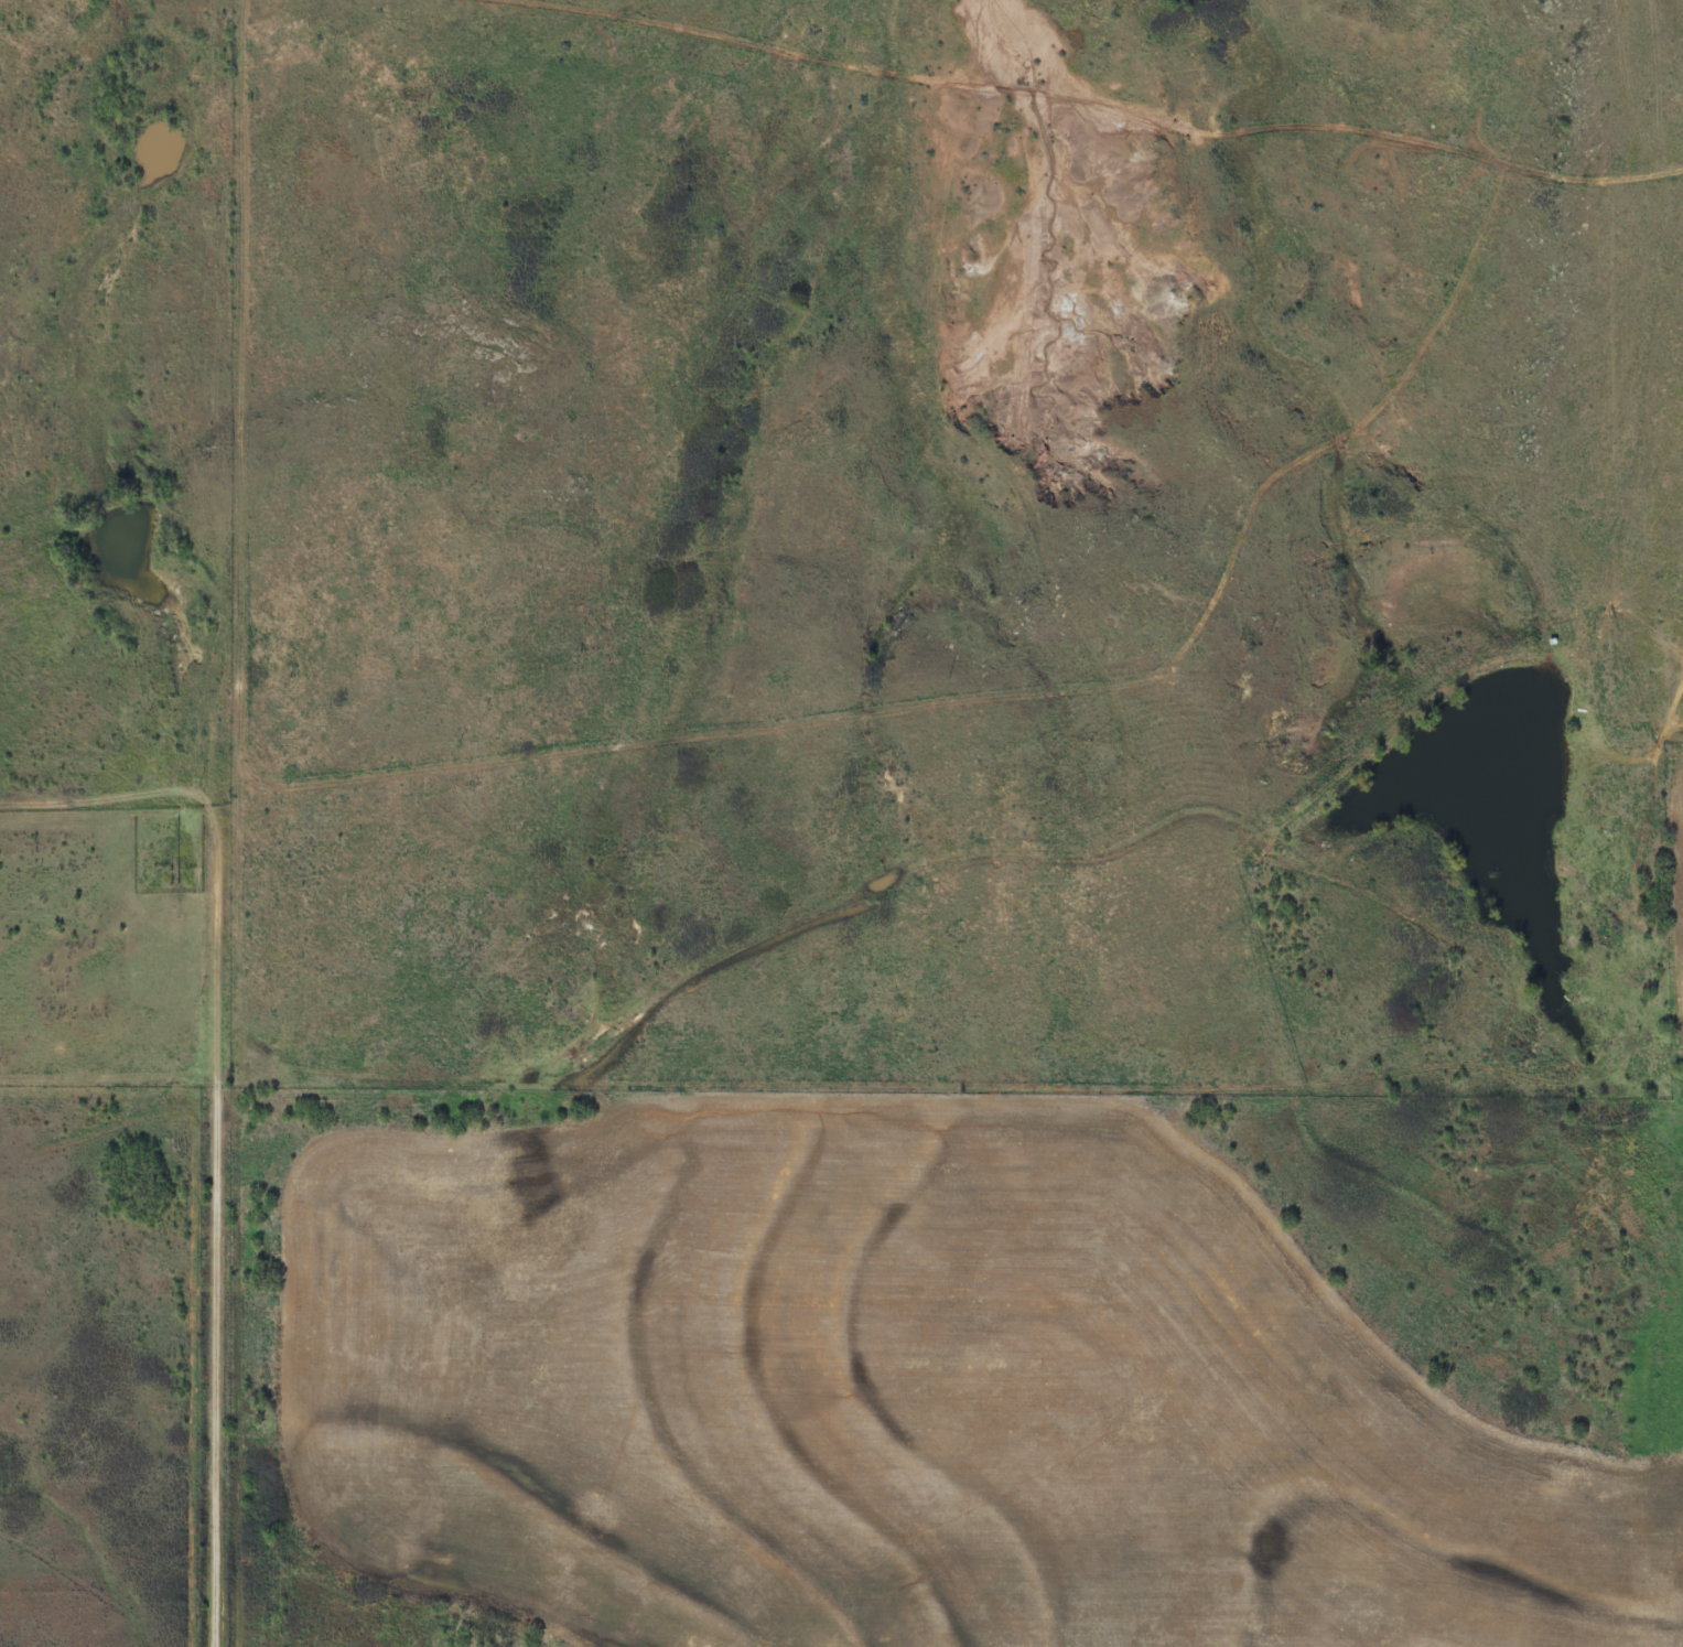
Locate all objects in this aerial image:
road: (208, 848)
road: (62, 1081)
road: (171, 1100)
road: (218, 1370)

